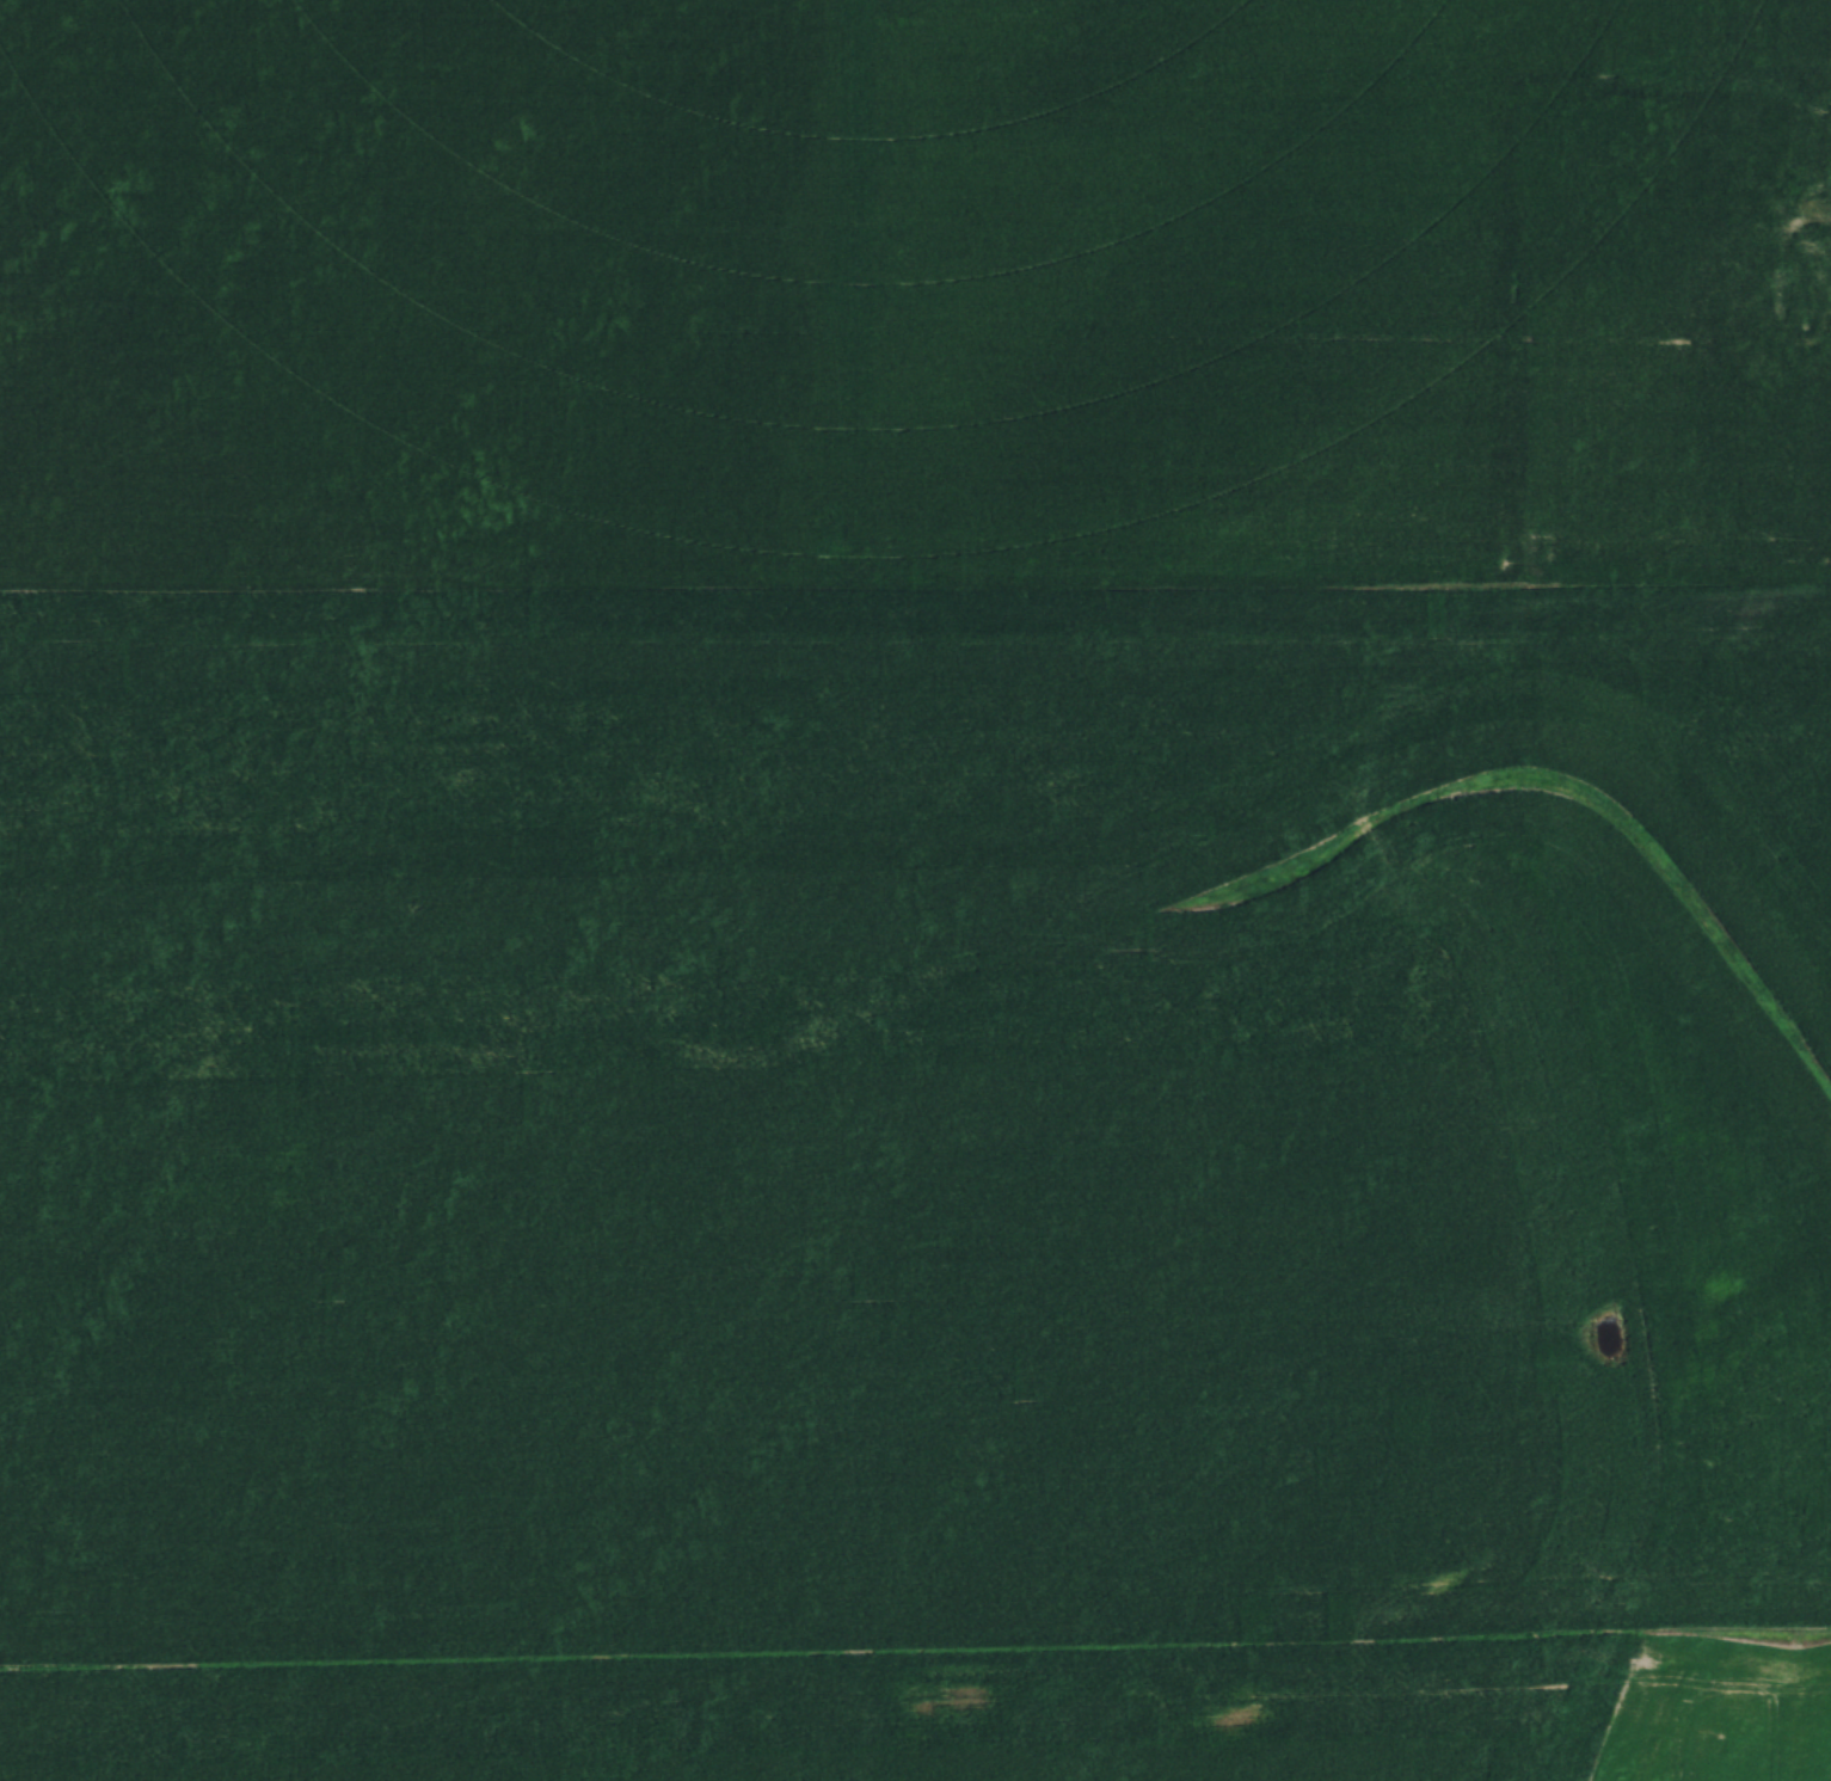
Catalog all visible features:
building: (1810, 190)
road: (1807, 201)
building: (1782, 296)

